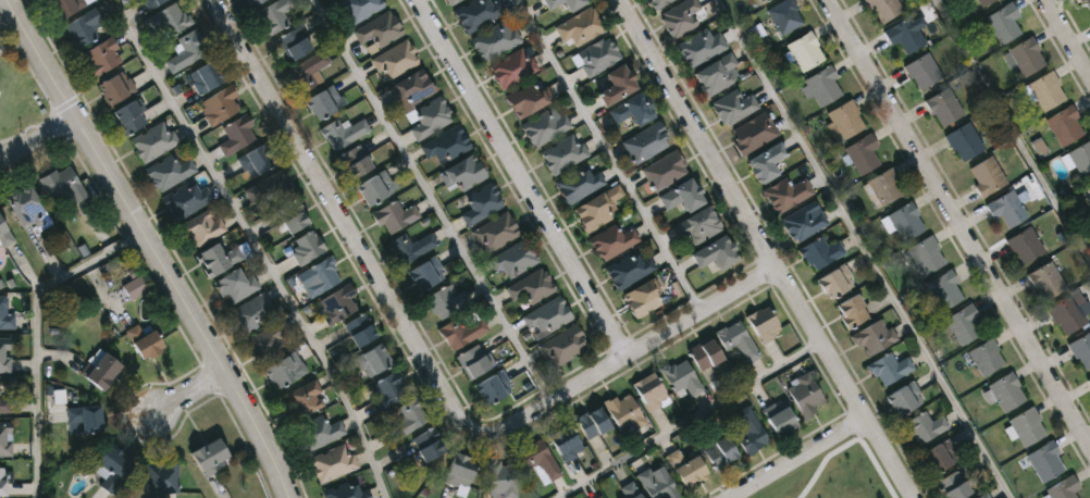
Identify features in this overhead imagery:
building: (1078, 0)
building: (450, 1)
building: (765, 1)
building: (982, 1)
building: (152, 2)
building: (251, 2)
building: (548, 2)
building: (1088, 2)
building: (570, 3)
building: (658, 3)
building: (64, 7)
building: (356, 9)
building: (881, 9)
building: (475, 13)
building: (273, 14)
building: (788, 15)
building: (680, 16)
building: (170, 17)
building: (1002, 21)
building: (579, 25)
building: (83, 27)
building: (376, 30)
building: (903, 34)
road: (1069, 34)
building: (493, 40)
building: (293, 41)
parking lot: (3, 43)
building: (701, 47)
building: (187, 49)
building: (807, 51)
building: (102, 54)
building: (597, 54)
building: (1021, 55)
building: (394, 59)
building: (511, 67)
building: (920, 70)
building: (305, 71)
building: (715, 74)
building: (207, 75)
building: (615, 83)
building: (117, 86)
building: (823, 86)
building: (410, 88)
building: (1042, 89)
building: (527, 98)
building: (324, 100)
building: (220, 104)
building: (733, 105)
building: (942, 107)
building: (630, 110)
building: (129, 113)
building: (428, 116)
building: (847, 120)
building: (1063, 124)
road: (1014, 126)
building: (543, 127)
building: (343, 132)
building: (753, 133)
building: (237, 134)
road: (36, 138)
building: (154, 140)
building: (963, 140)
building: (644, 141)
building: (446, 144)
road: (609, 152)
building: (562, 153)
building: (865, 153)
building: (1078, 158)
building: (354, 160)
building: (256, 161)
building: (764, 161)
building: (170, 170)
building: (662, 170)
building: (461, 172)
building: (986, 175)
road: (521, 177)
building: (60, 184)
building: (575, 184)
building: (885, 185)
building: (272, 186)
building: (374, 186)
building: (1087, 189)
building: (785, 194)
building: (681, 195)
road: (432, 198)
building: (186, 199)
building: (480, 203)
building: (596, 207)
building: (25, 208)
building: (1005, 208)
building: (292, 213)
building: (394, 216)
road: (957, 219)
building: (902, 221)
building: (802, 222)
building: (697, 225)
building: (202, 227)
building: (494, 232)
building: (4, 234)
building: (610, 240)
building: (1023, 244)
road: (256, 245)
building: (306, 245)
building: (411, 246)
road: (145, 248)
road: (866, 249)
road: (766, 250)
building: (820, 251)
building: (713, 252)
building: (924, 254)
building: (218, 258)
building: (513, 258)
building: (628, 270)
building: (424, 272)
building: (321, 275)
building: (1044, 279)
building: (835, 281)
building: (236, 284)
building: (135, 285)
building: (531, 286)
building: (940, 289)
building: (643, 296)
building: (445, 301)
building: (339, 302)
building: (851, 311)
building: (252, 313)
building: (4, 314)
building: (1064, 314)
building: (547, 315)
building: (763, 323)
building: (961, 323)
building: (360, 328)
building: (461, 332)
building: (875, 336)
road: (39, 337)
building: (268, 337)
building: (147, 340)
building: (738, 340)
building: (562, 345)
building: (1081, 349)
building: (1, 352)
building: (704, 353)
building: (984, 356)
building: (373, 359)
building: (475, 360)
road: (426, 365)
building: (284, 368)
building: (889, 368)
building: (98, 369)
building: (681, 376)
building: (1088, 379)
building: (493, 386)
building: (389, 389)
building: (649, 393)
building: (805, 393)
building: (1002, 393)
road: (188, 395)
building: (309, 397)
building: (904, 397)
building: (4, 406)
building: (624, 416)
building: (82, 419)
building: (407, 419)
building: (778, 419)
road: (692, 420)
building: (590, 423)
building: (924, 426)
building: (1023, 426)
building: (748, 431)
building: (319, 432)
building: (5, 438)
building: (565, 443)
building: (426, 444)
road: (841, 451)
building: (718, 453)
building: (938, 456)
building: (206, 457)
road: (802, 459)
building: (538, 461)
building: (1043, 461)
building: (334, 462)
building: (109, 466)
building: (685, 469)
building: (459, 472)
building: (500, 478)
building: (160, 480)
park: (843, 480)
building: (1, 482)
building: (657, 484)
building: (952, 486)
building: (1061, 488)
building: (628, 490)
building: (346, 491)
building: (982, 496)
building: (598, 497)
building: (599, 497)

